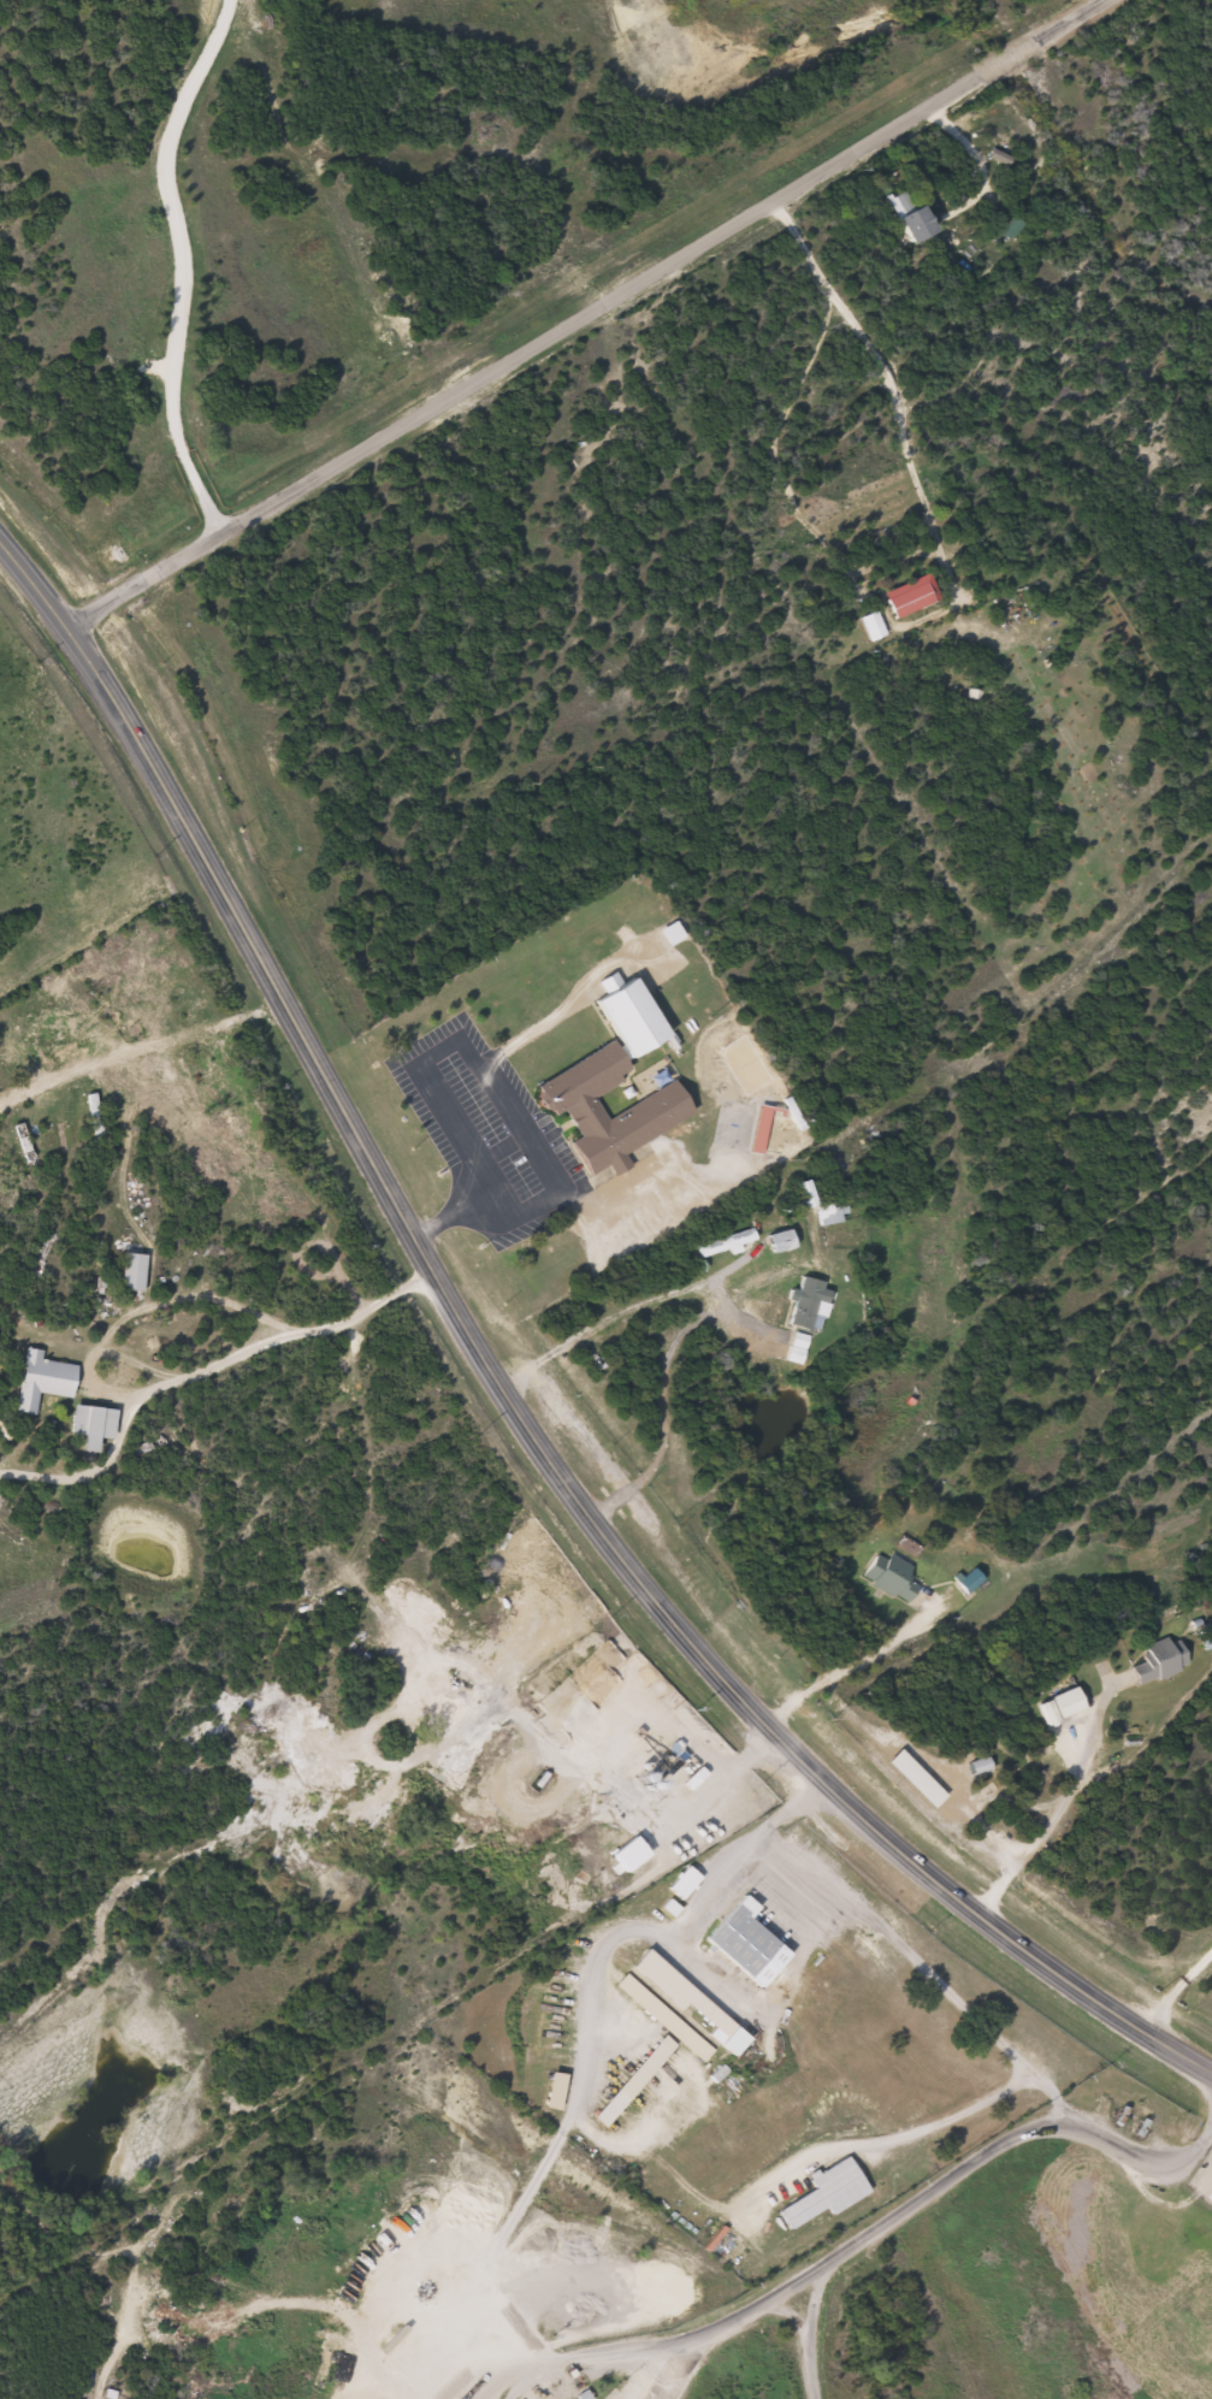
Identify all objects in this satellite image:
building: (903, 205)
road: (173, 268)
road: (593, 314)
road: (874, 348)
building: (916, 599)
building: (877, 627)
building: (141, 987)
building: (634, 1015)
building: (73, 1038)
road: (135, 1038)
building: (11, 1062)
building: (226, 1082)
building: (574, 1104)
building: (774, 1130)
building: (28, 1144)
building: (835, 1212)
building: (788, 1239)
building: (137, 1271)
building: (47, 1381)
road: (504, 1391)
building: (96, 1425)
building: (894, 1577)
building: (974, 1582)
building: (1163, 1661)
building: (1071, 1702)
building: (983, 1766)
building: (920, 1779)
road: (1062, 1802)
building: (634, 1854)
building: (687, 1883)
road: (895, 1939)
building: (751, 1944)
road: (1180, 1993)
building: (692, 1999)
building: (667, 2019)
building: (637, 2082)
building: (830, 2192)
road: (906, 2205)

